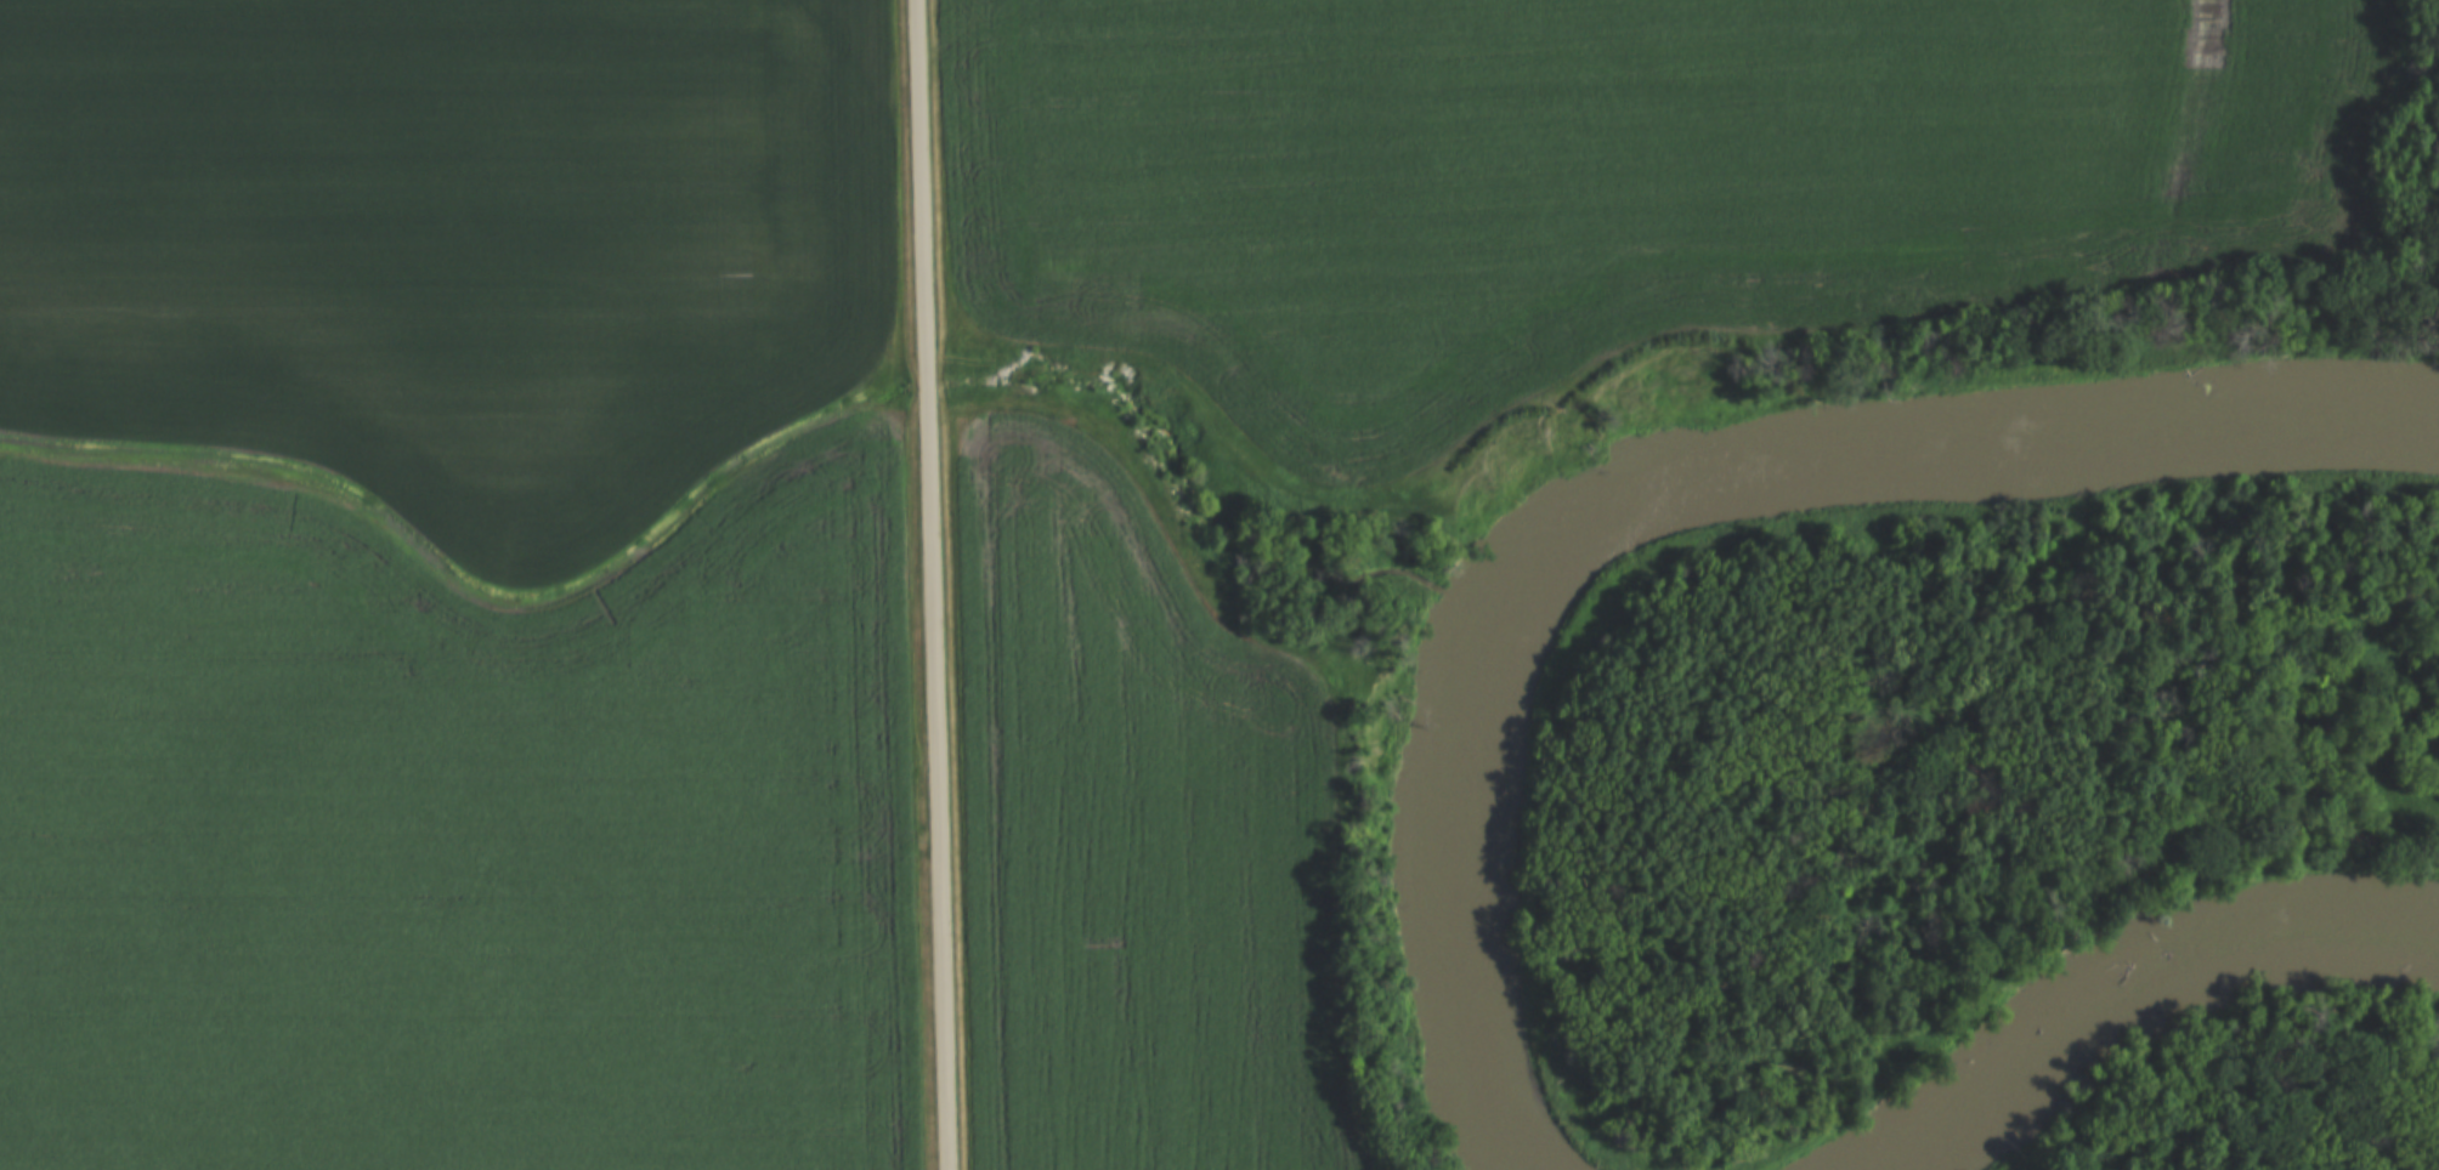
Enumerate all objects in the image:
river: (1956, 433)
road: (934, 584)
river: (1456, 893)
river: (2138, 982)

